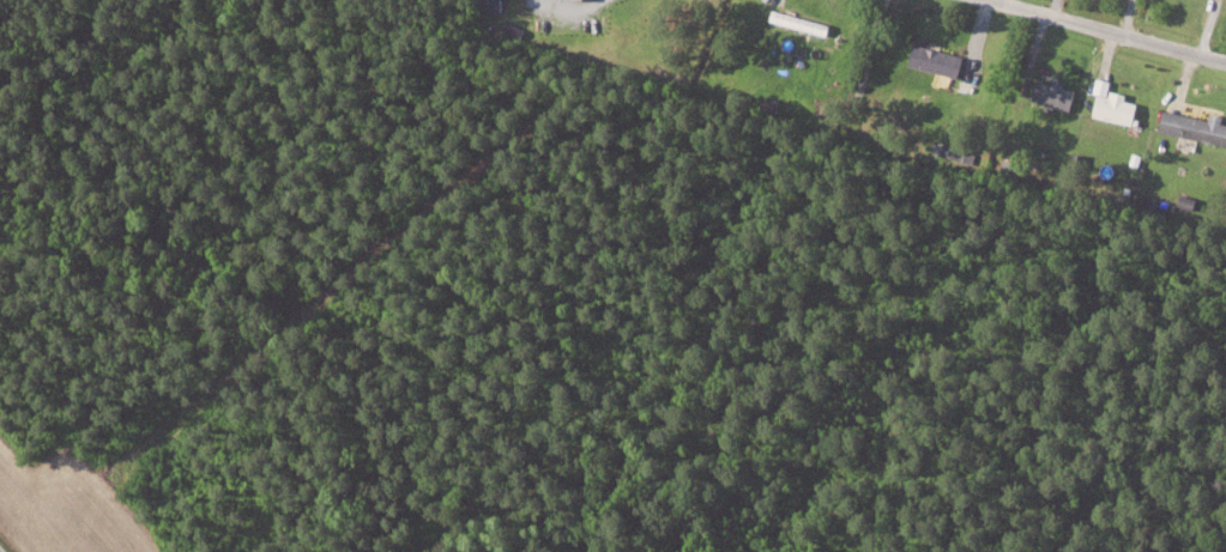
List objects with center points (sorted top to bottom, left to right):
road: (590, 4)
road: (1109, 32)
building: (938, 60)
building: (1056, 93)
building: (1113, 103)
building: (1197, 126)
road: (4, 547)

